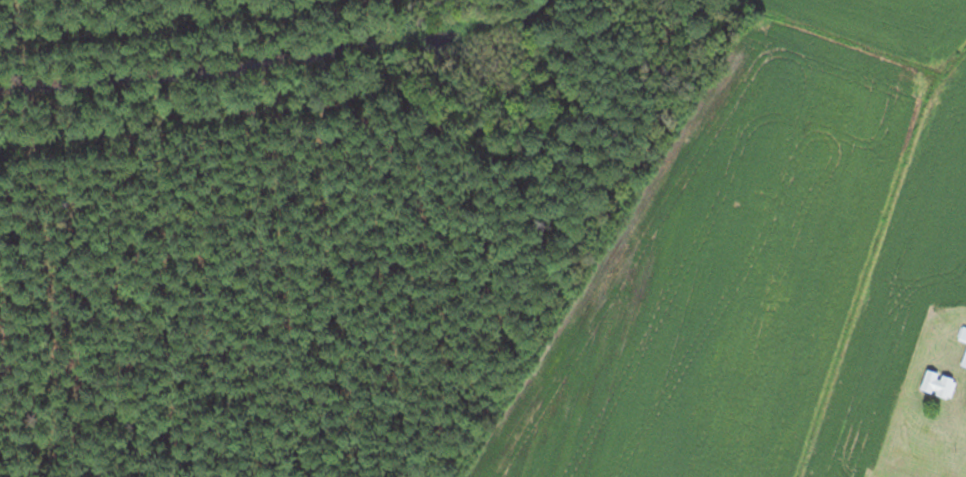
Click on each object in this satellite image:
building: (962, 333)
building: (964, 361)
building: (939, 383)

